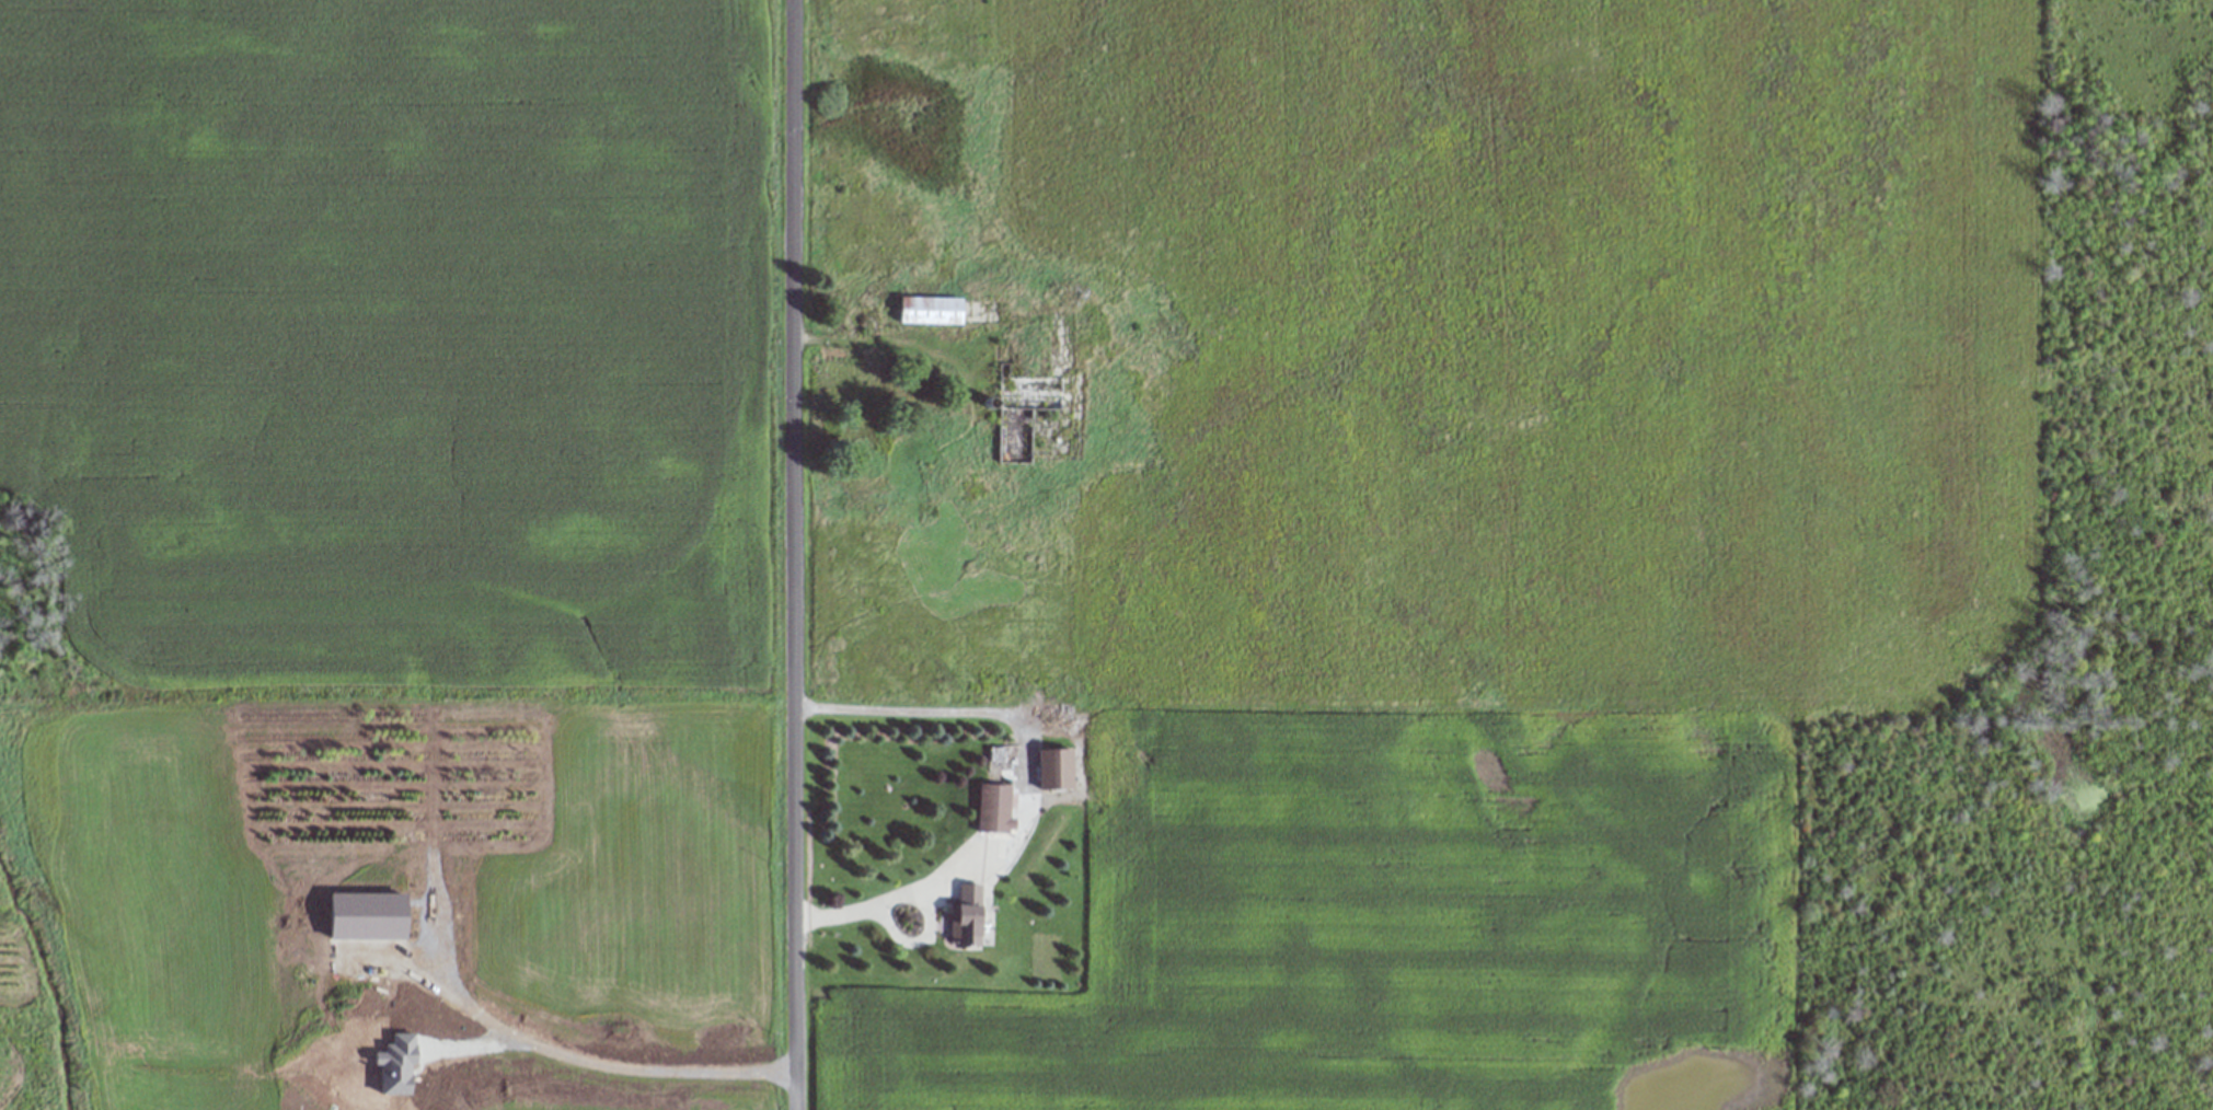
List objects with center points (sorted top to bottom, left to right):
building: (926, 311)
building: (1022, 395)
road: (794, 554)
building: (1050, 770)
road: (1028, 785)
building: (989, 809)
building: (963, 915)

